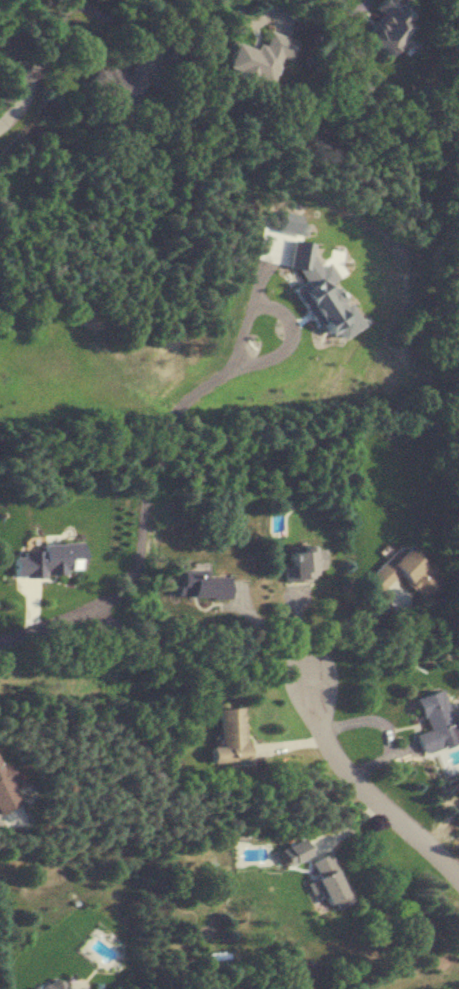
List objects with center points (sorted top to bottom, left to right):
building: (390, 24)
building: (261, 57)
road: (18, 64)
road: (41, 67)
building: (126, 83)
building: (321, 300)
road: (145, 497)
building: (304, 563)
building: (402, 571)
building: (201, 585)
road: (274, 625)
road: (336, 626)
building: (435, 721)
building: (230, 737)
road: (364, 787)
building: (7, 789)
building: (328, 881)
building: (53, 985)
building: (35, 988)

